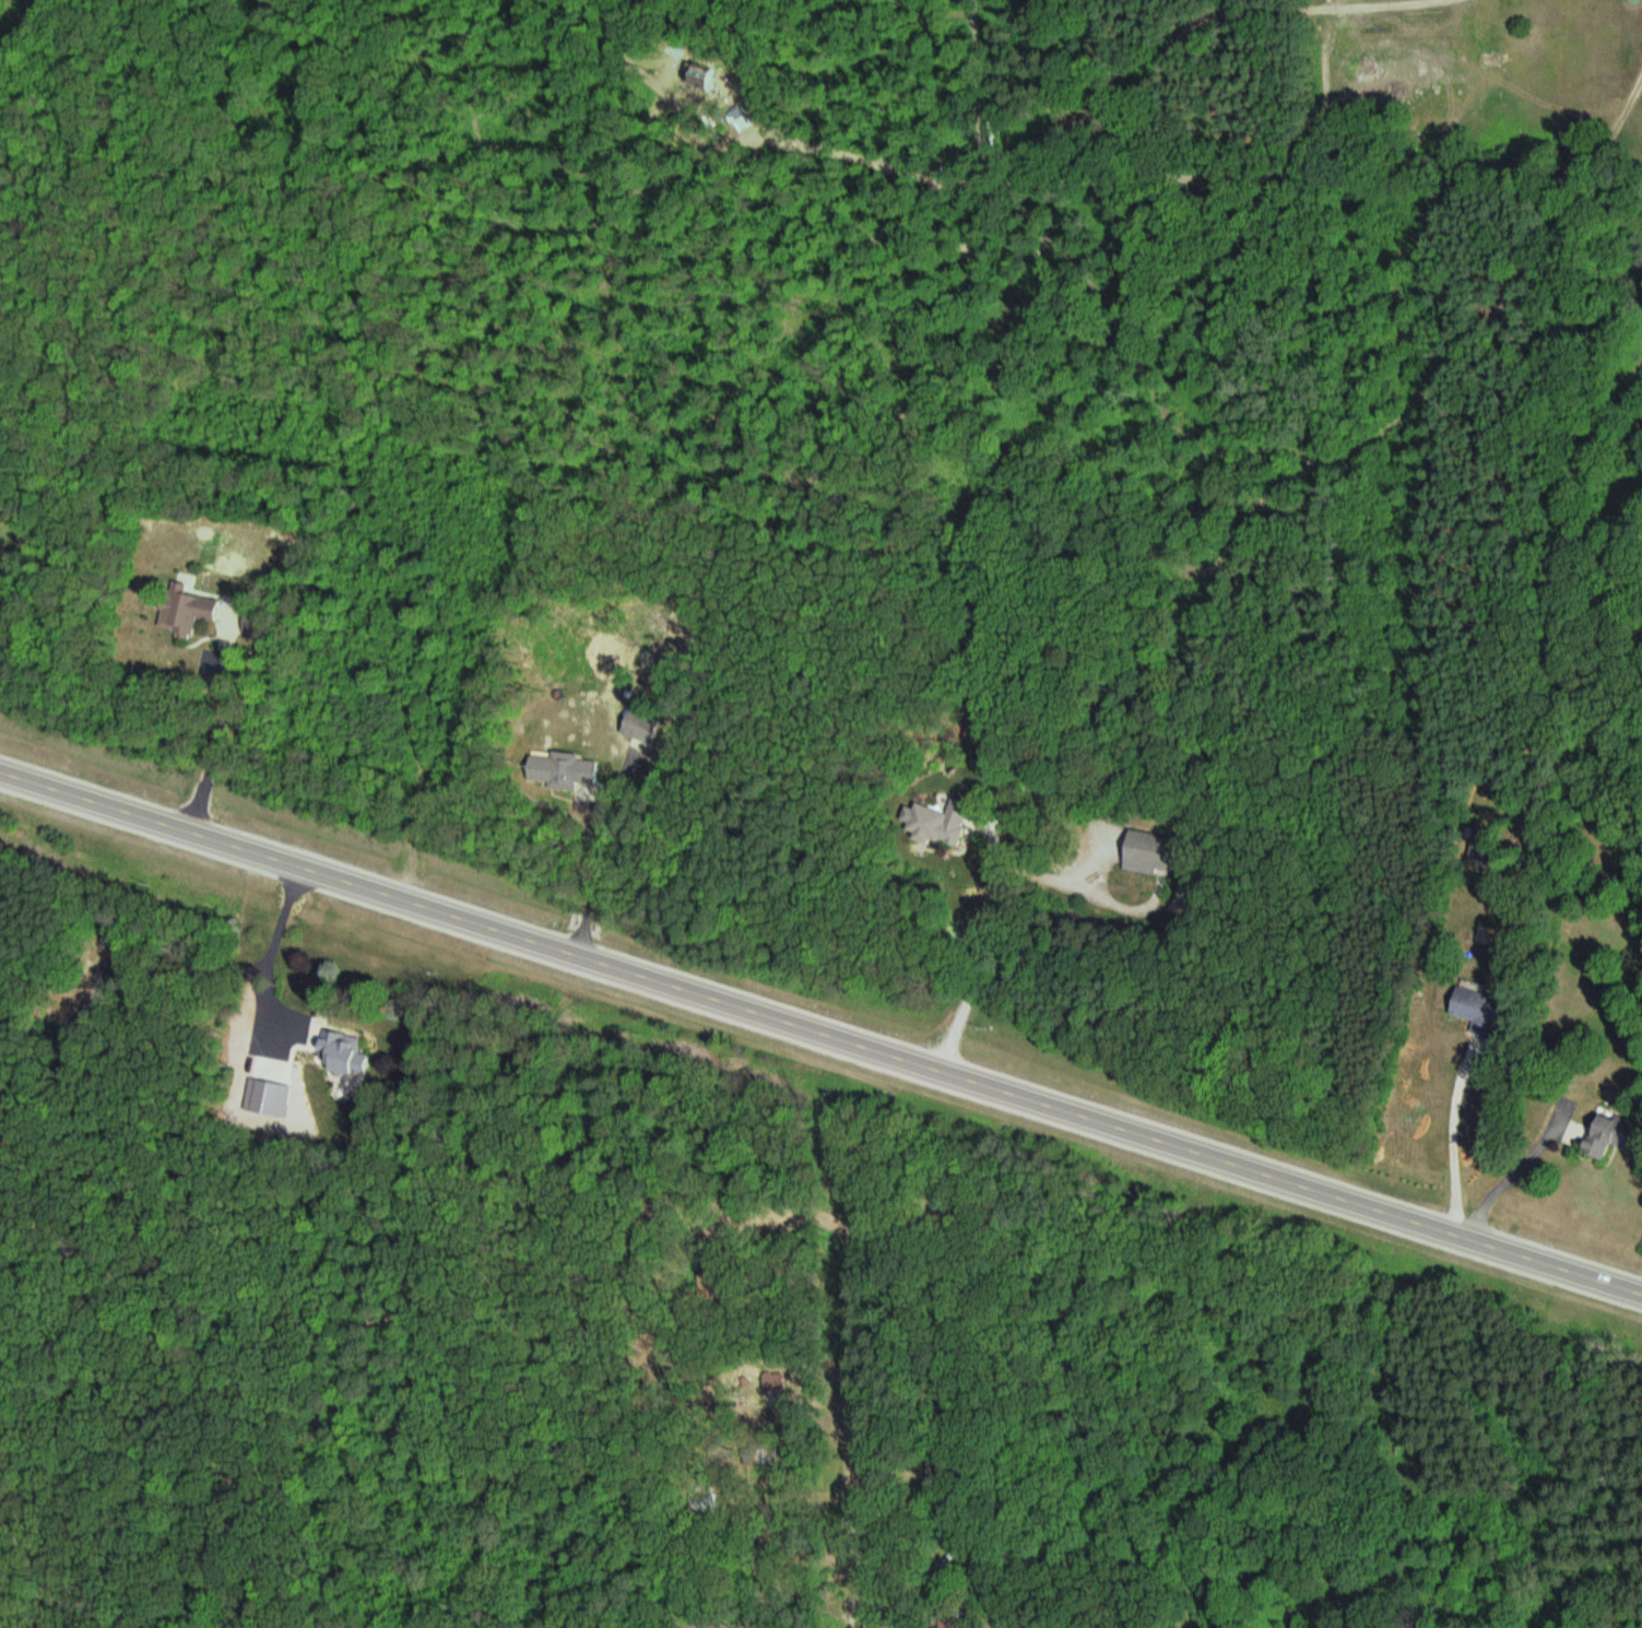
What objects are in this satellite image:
road: (1248, 550)
building: (184, 610)
building: (566, 768)
building: (938, 823)
building: (1146, 852)
building: (1481, 1016)
road: (820, 1030)
building: (347, 1051)
building: (1608, 1130)
road: (869, 1336)

